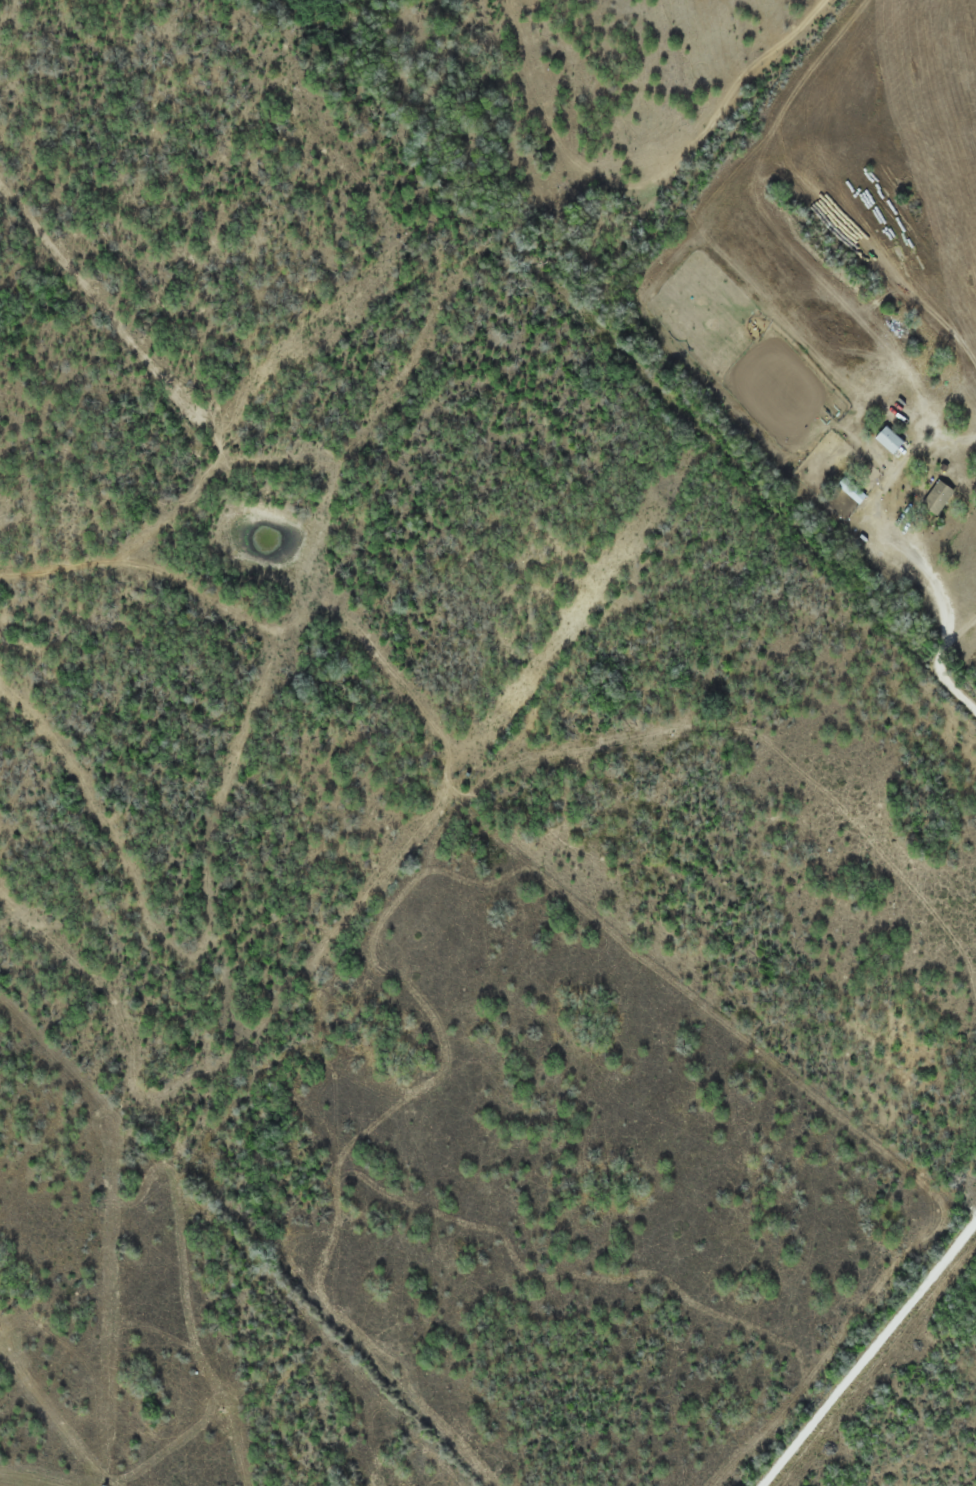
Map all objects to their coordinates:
building: (891, 441)
building: (852, 490)
building: (937, 497)
road: (872, 1357)

